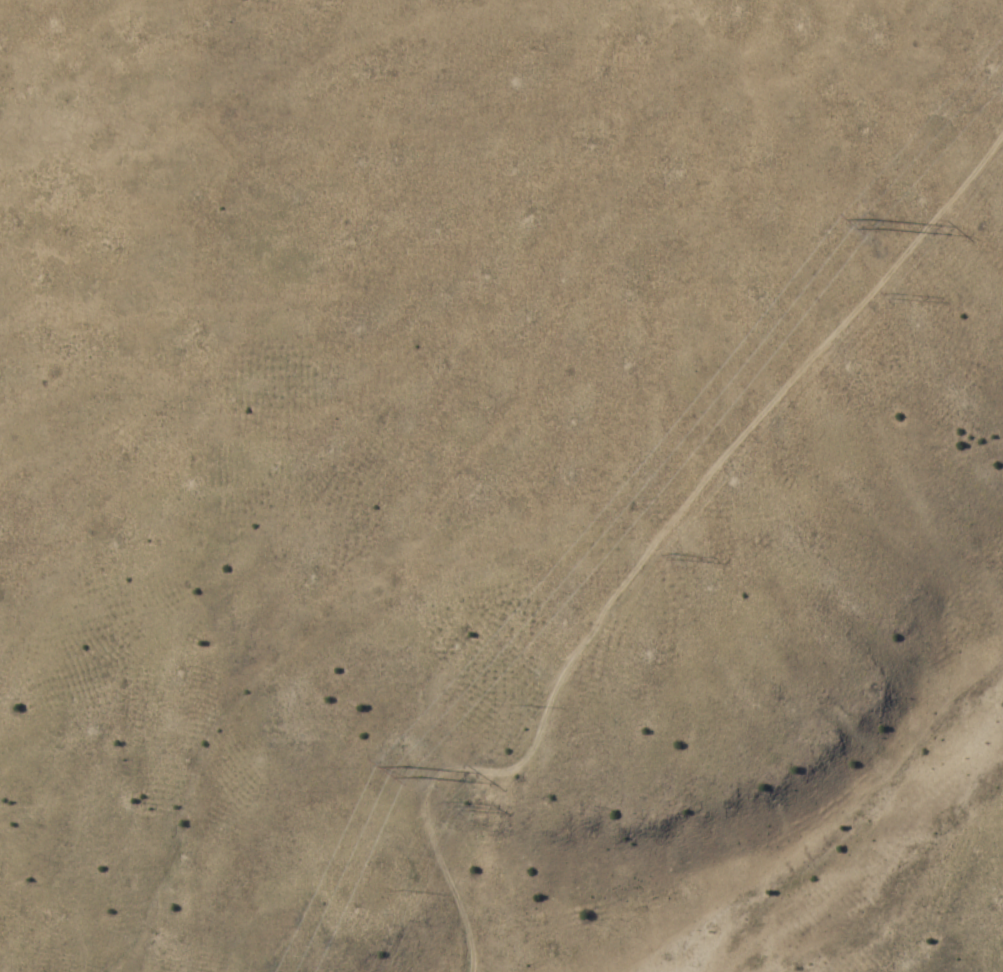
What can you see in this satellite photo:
power tower: (876, 227)
road: (715, 465)
road: (617, 470)
power tower: (411, 775)
power tower: (466, 811)
road: (448, 873)

